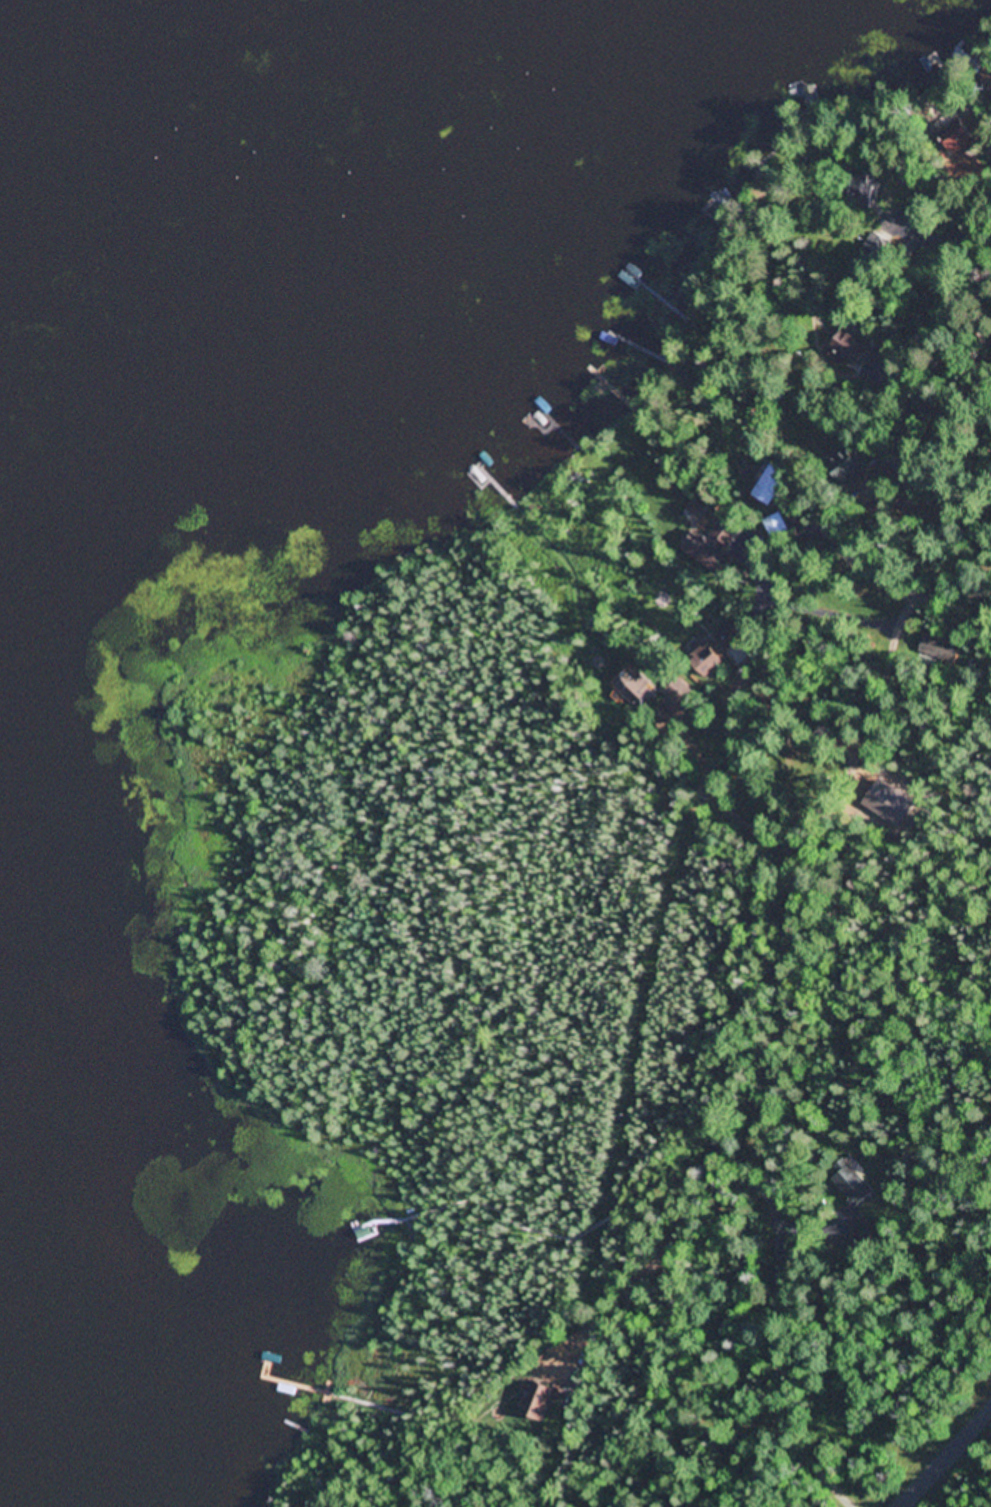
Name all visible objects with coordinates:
building: (960, 135)
building: (863, 189)
river: (372, 253)
road: (980, 299)
building: (850, 350)
road: (872, 395)
building: (847, 465)
building: (772, 486)
building: (712, 546)
building: (728, 638)
building: (939, 649)
building: (709, 660)
building: (638, 691)
road: (890, 728)
building: (539, 1402)
road: (944, 1457)

